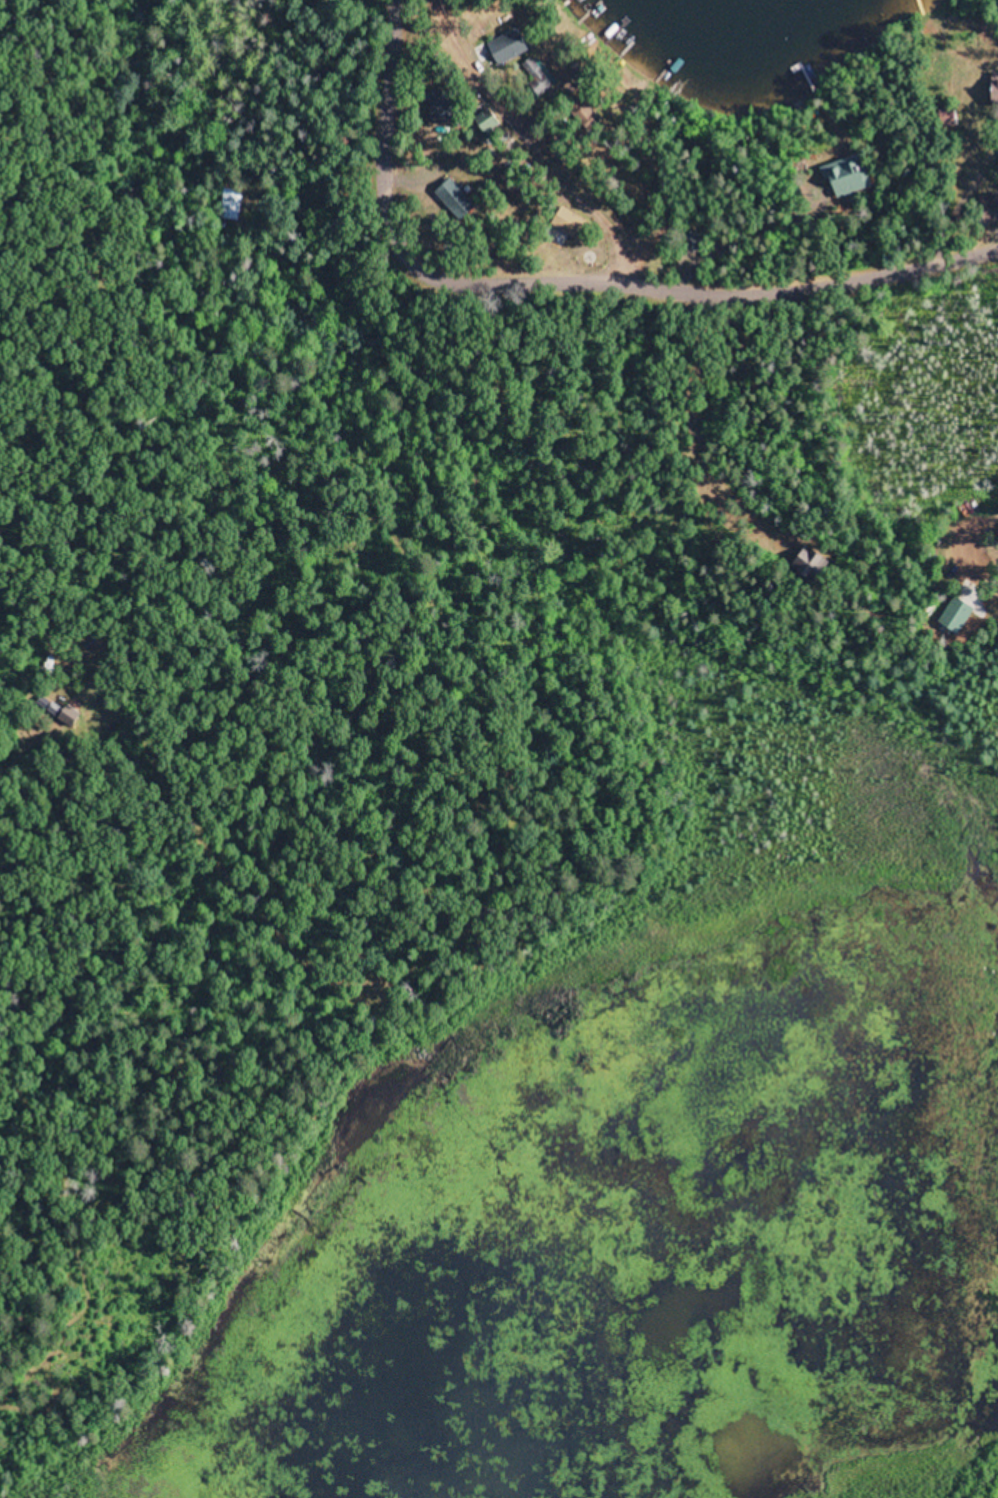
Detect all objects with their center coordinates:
road: (795, 176)
building: (853, 187)
road: (554, 284)
road: (586, 507)
road: (216, 665)
building: (60, 707)

